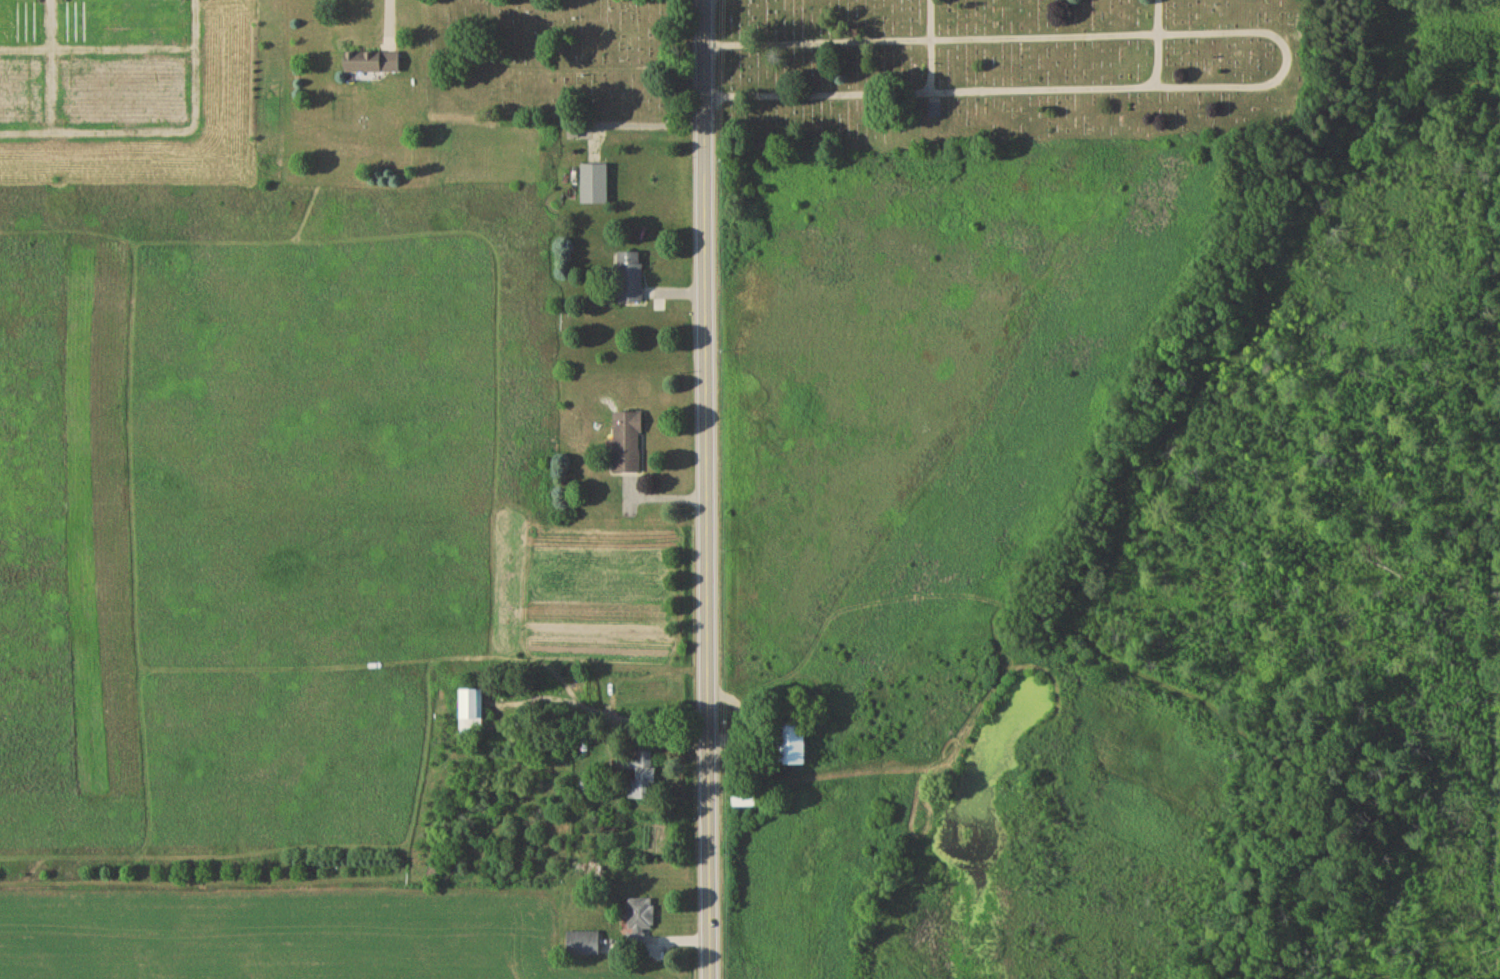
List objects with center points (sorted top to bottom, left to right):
road: (97, 46)
road: (51, 65)
building: (374, 65)
park: (898, 68)
road: (863, 91)
building: (935, 110)
road: (640, 124)
road: (159, 130)
building: (595, 186)
building: (630, 281)
building: (628, 446)
road: (706, 489)
building: (470, 713)
building: (795, 745)
building: (641, 776)
building: (746, 800)
building: (641, 918)
building: (584, 945)

